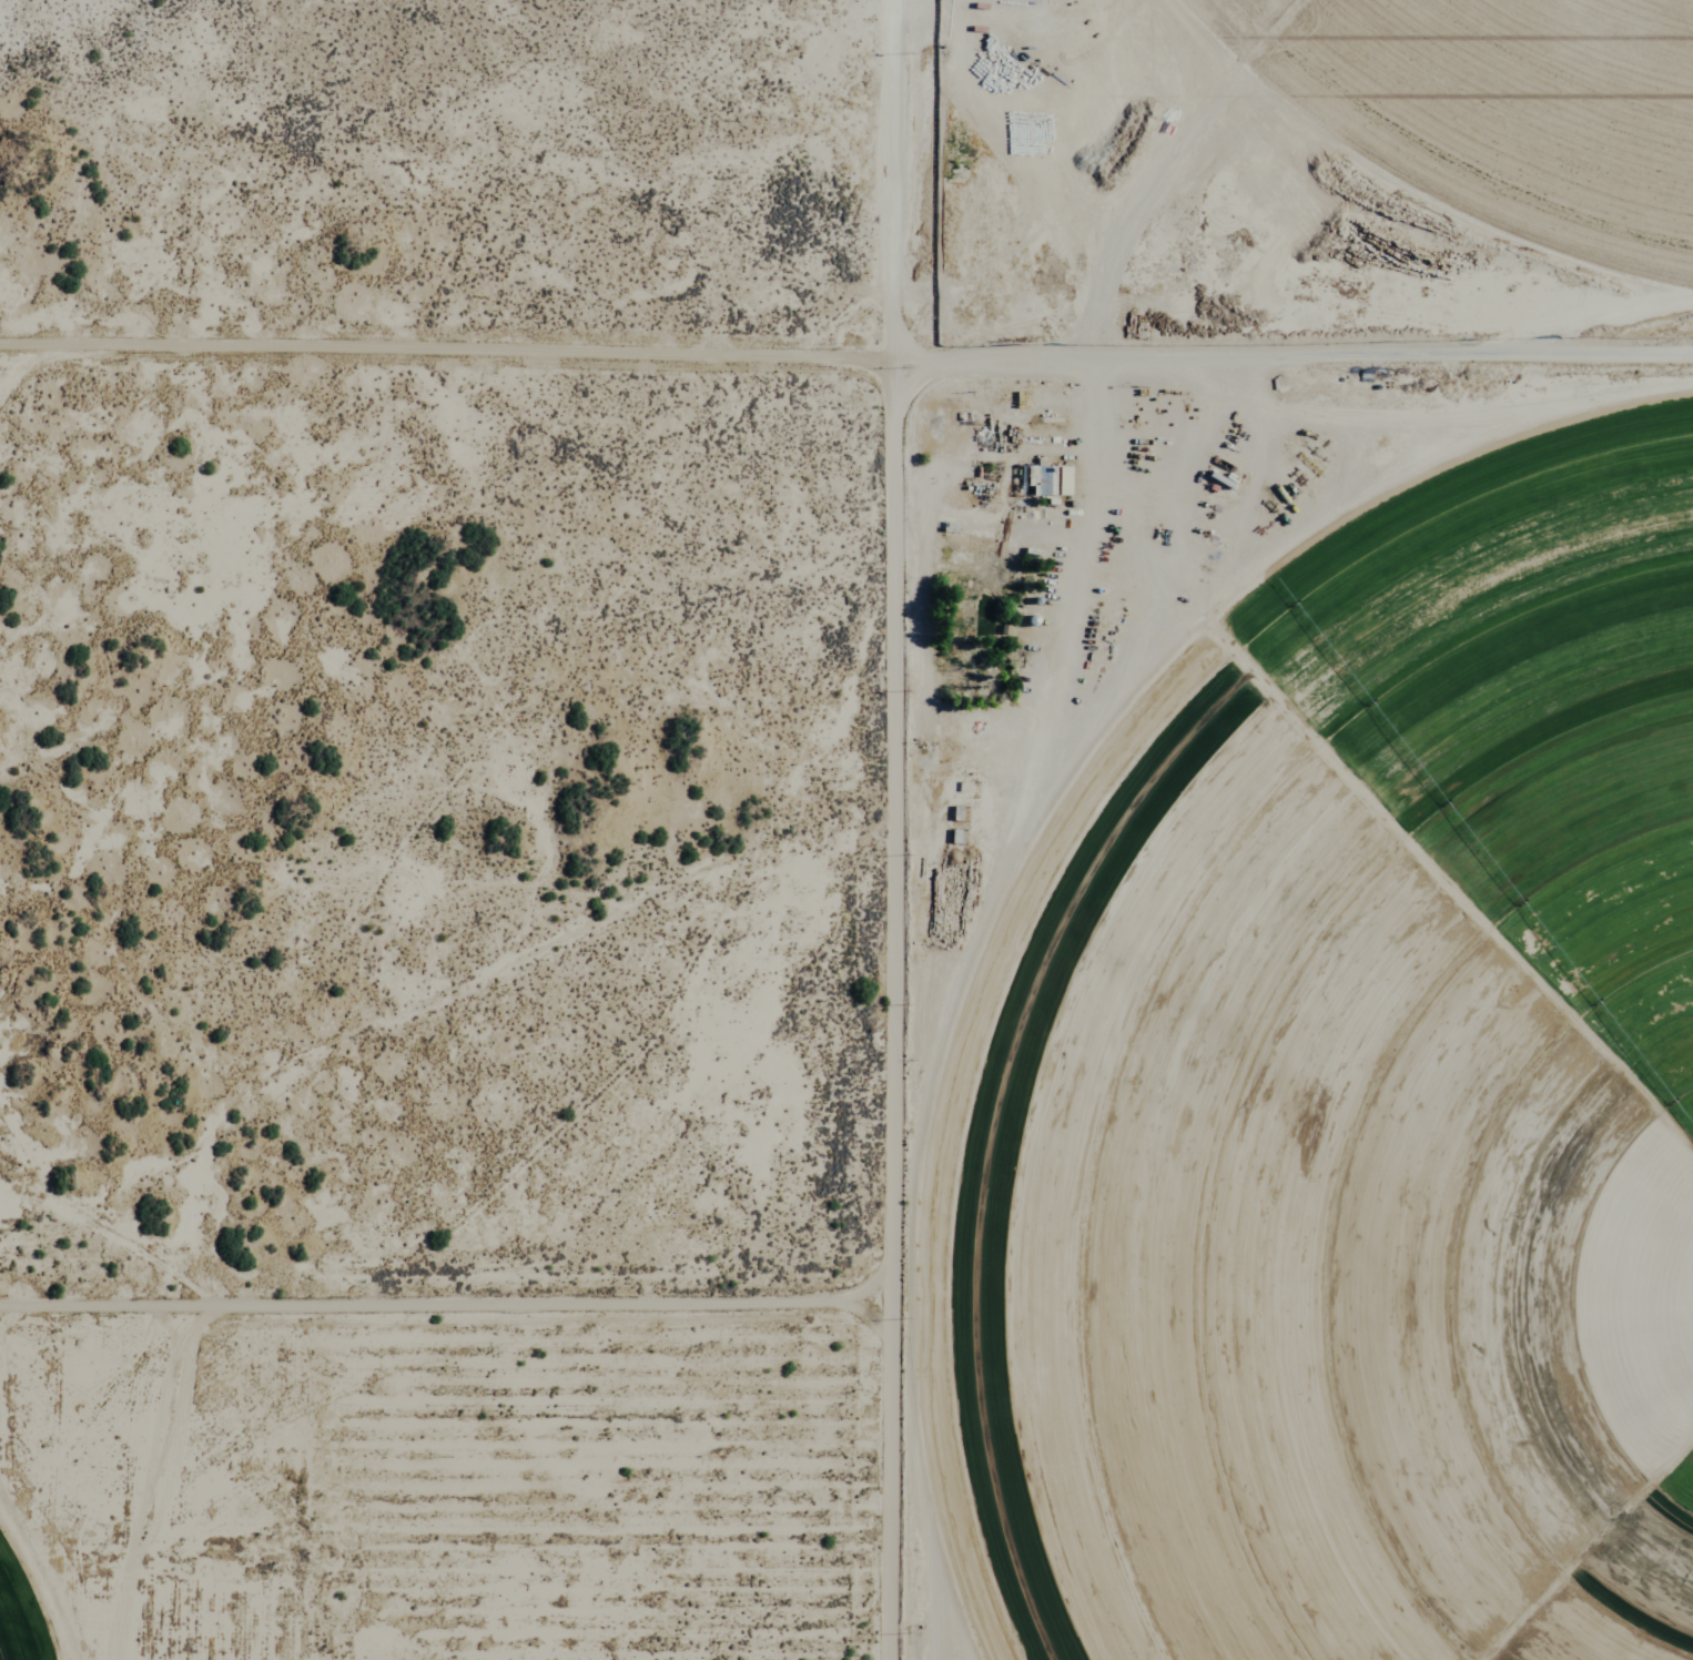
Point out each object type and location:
building: (1031, 30)
crop: (1506, 105)
road: (899, 182)
road: (846, 363)
building: (1050, 476)
road: (890, 1012)
crop: (1360, 1112)
crop: (20, 1618)

